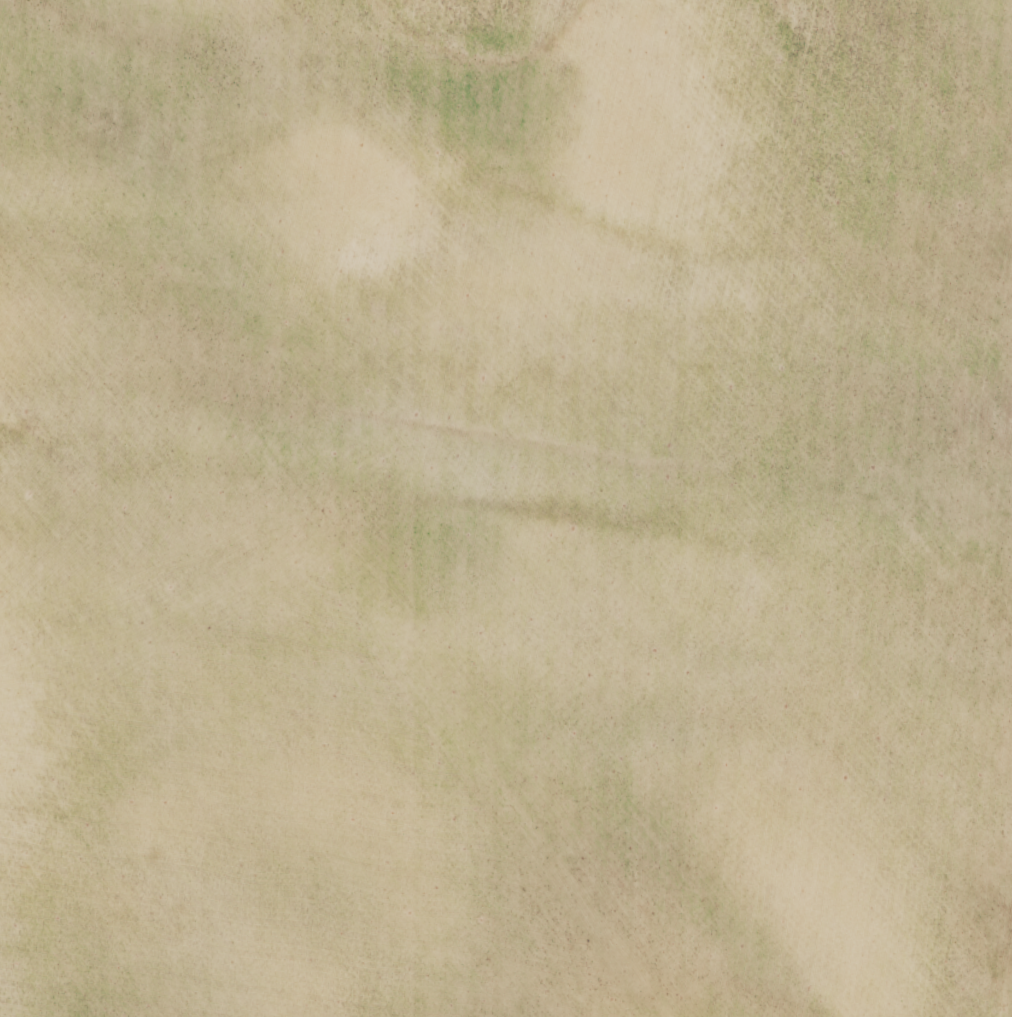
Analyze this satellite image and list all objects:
crop: (506, 508)

